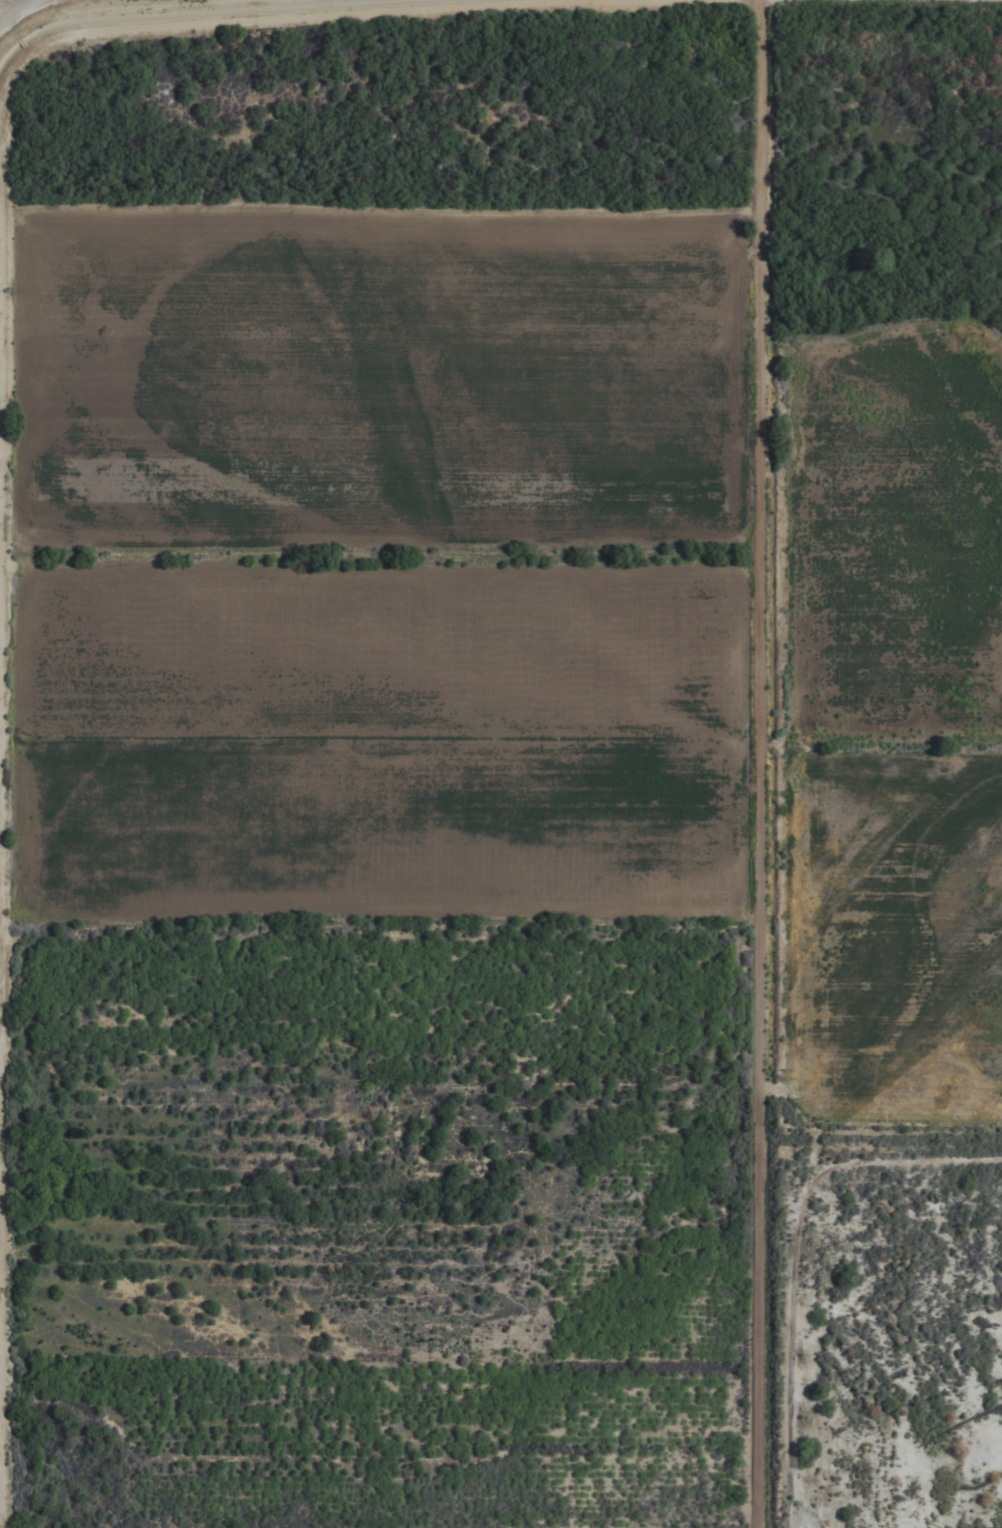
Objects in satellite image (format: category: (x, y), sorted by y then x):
road: (128, 8)

